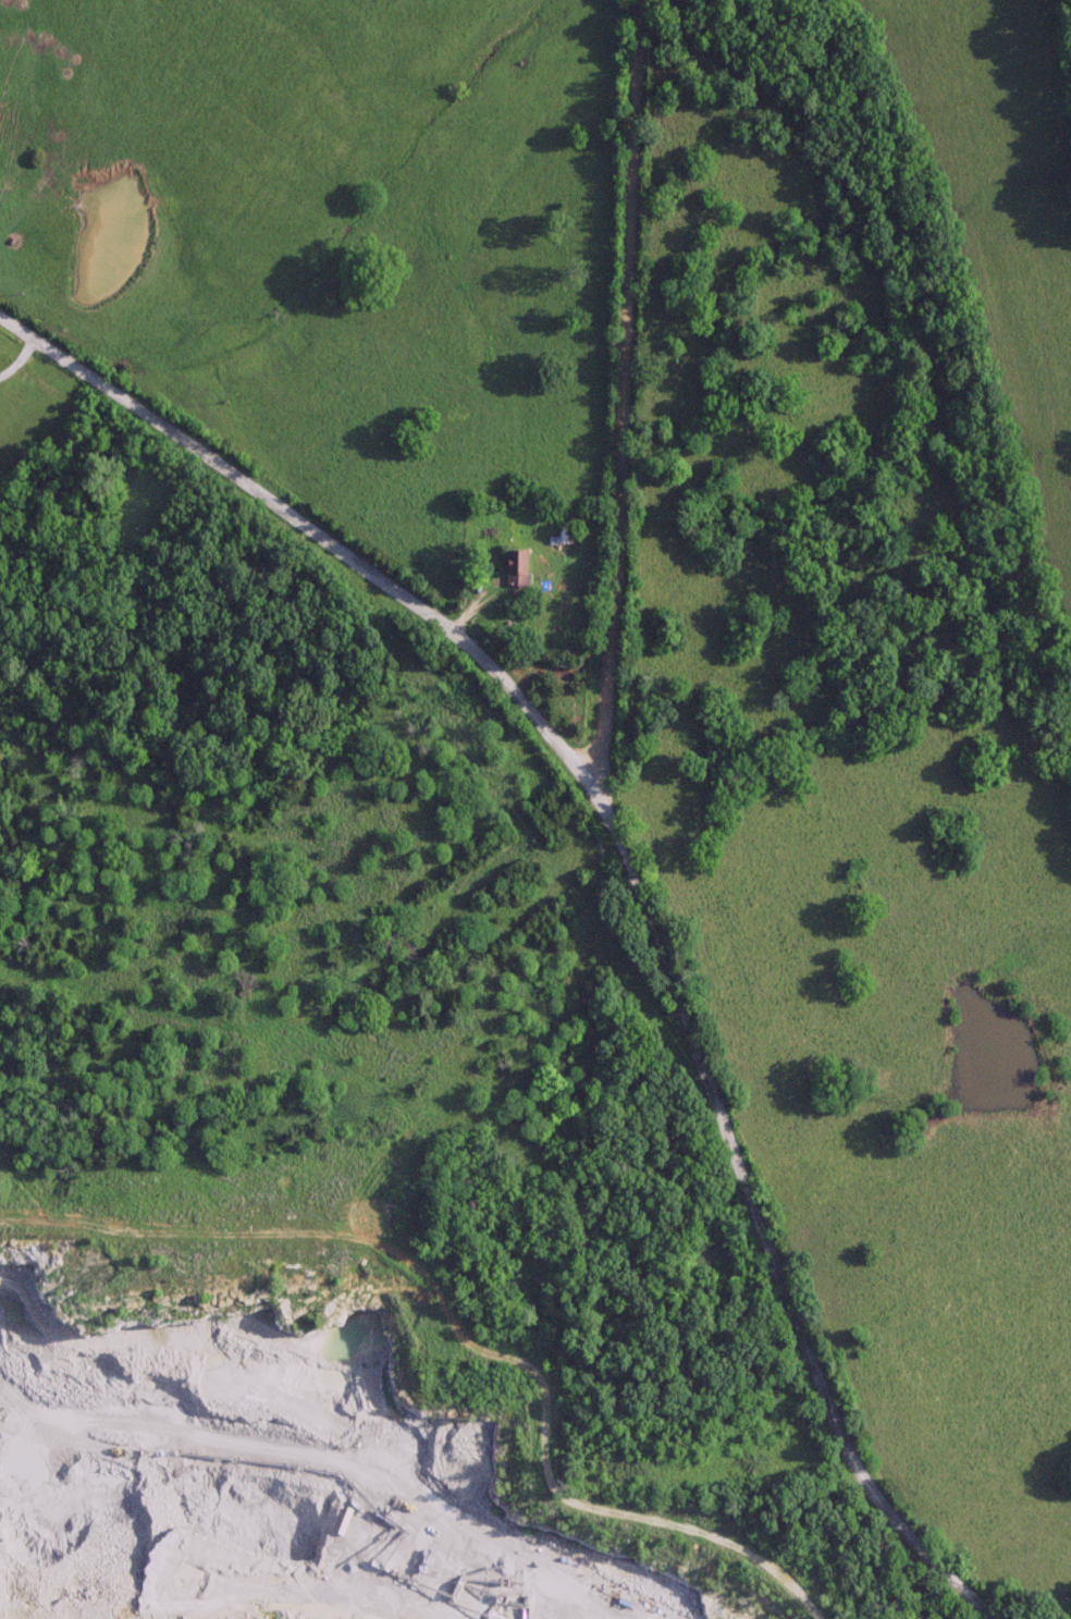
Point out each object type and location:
road: (621, 387)
road: (304, 528)
building: (515, 566)
building: (448, 1153)
road: (759, 1214)

